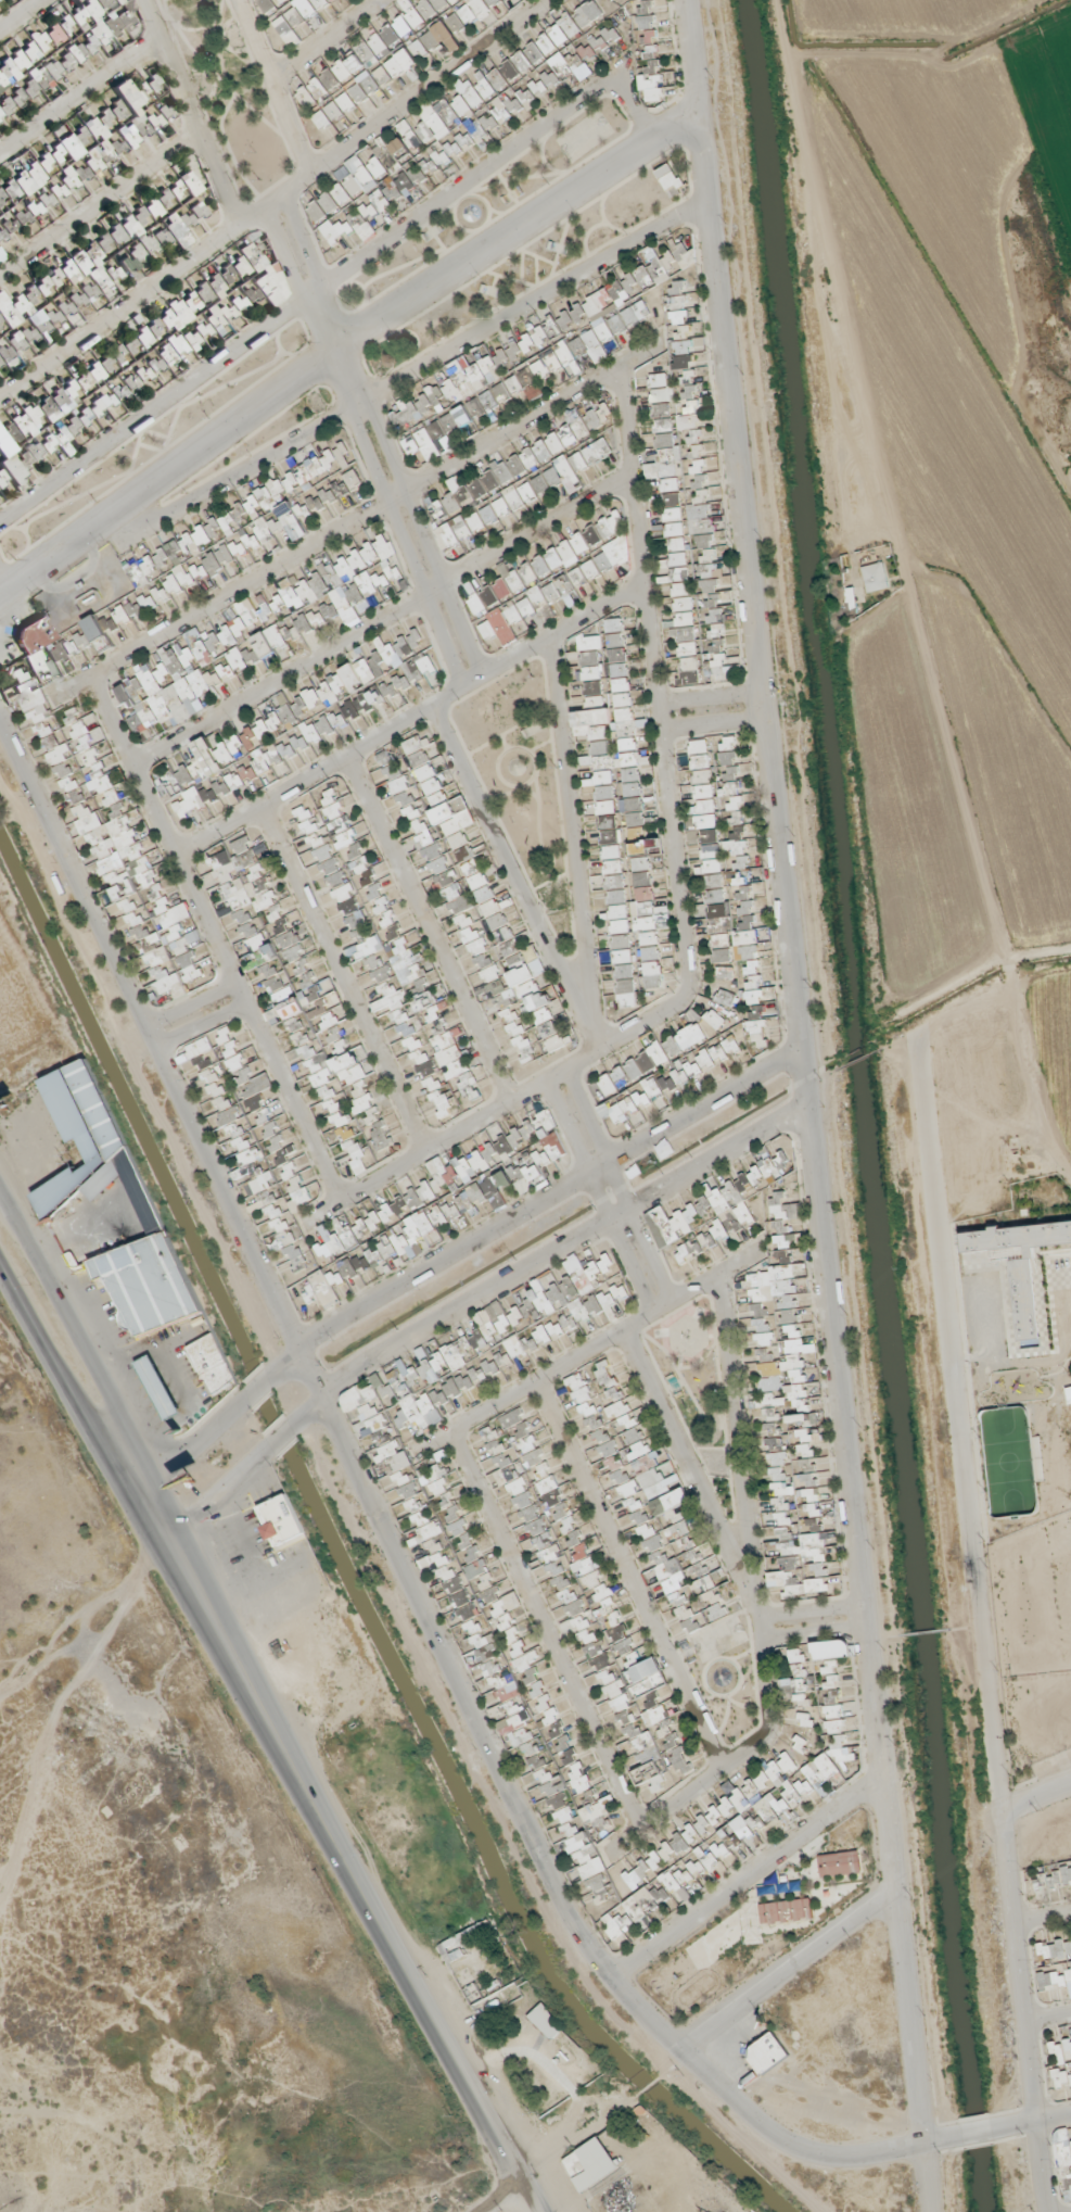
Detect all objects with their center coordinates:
building: (562, 36)
building: (668, 180)
road: (1054, 2118)

